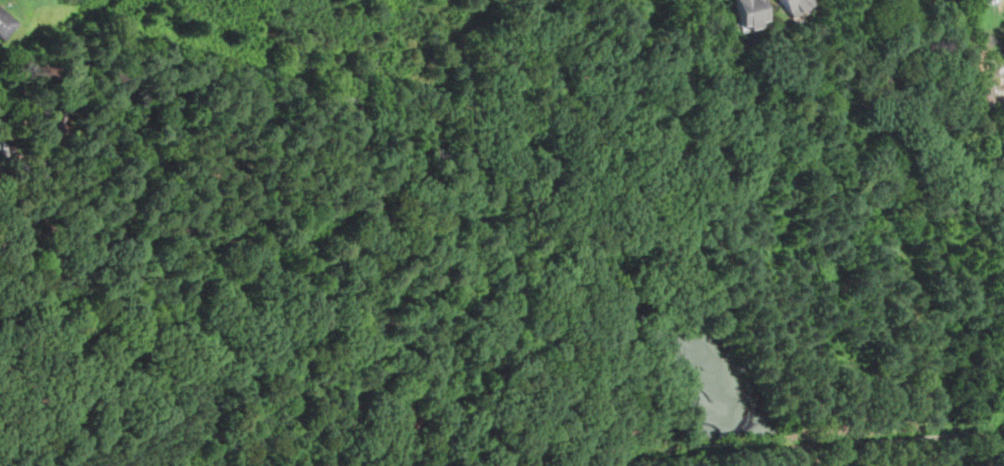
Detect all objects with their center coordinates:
building: (796, 5)
building: (749, 12)
building: (6, 23)
building: (55, 121)
road: (821, 445)

